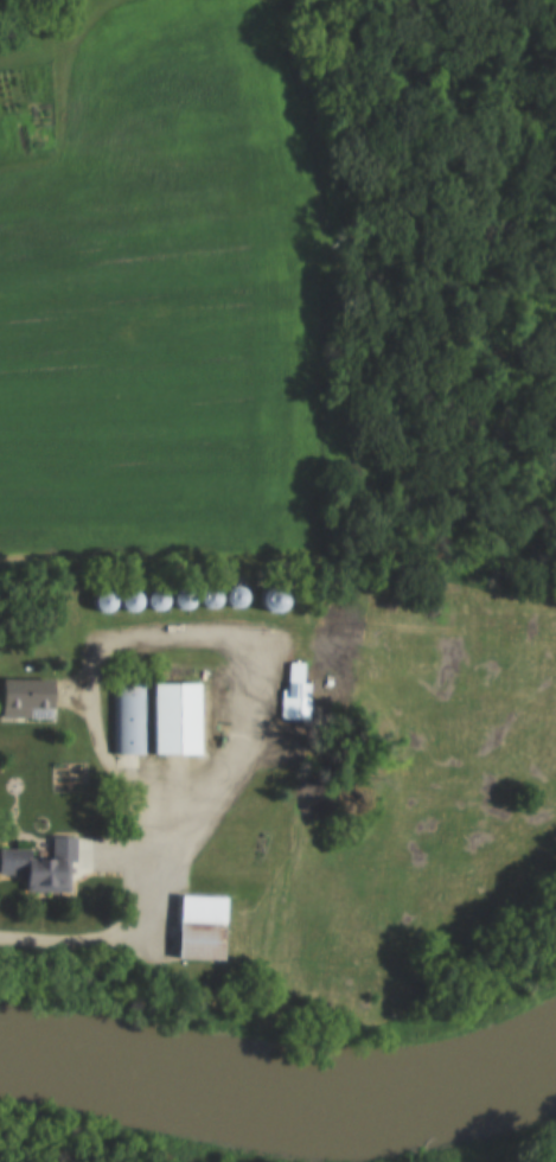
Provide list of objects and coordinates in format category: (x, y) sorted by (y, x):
building: (127, 602)
road: (183, 638)
building: (293, 694)
building: (128, 719)
building: (173, 722)
building: (40, 867)
building: (196, 928)
road: (100, 943)
river: (279, 1094)

